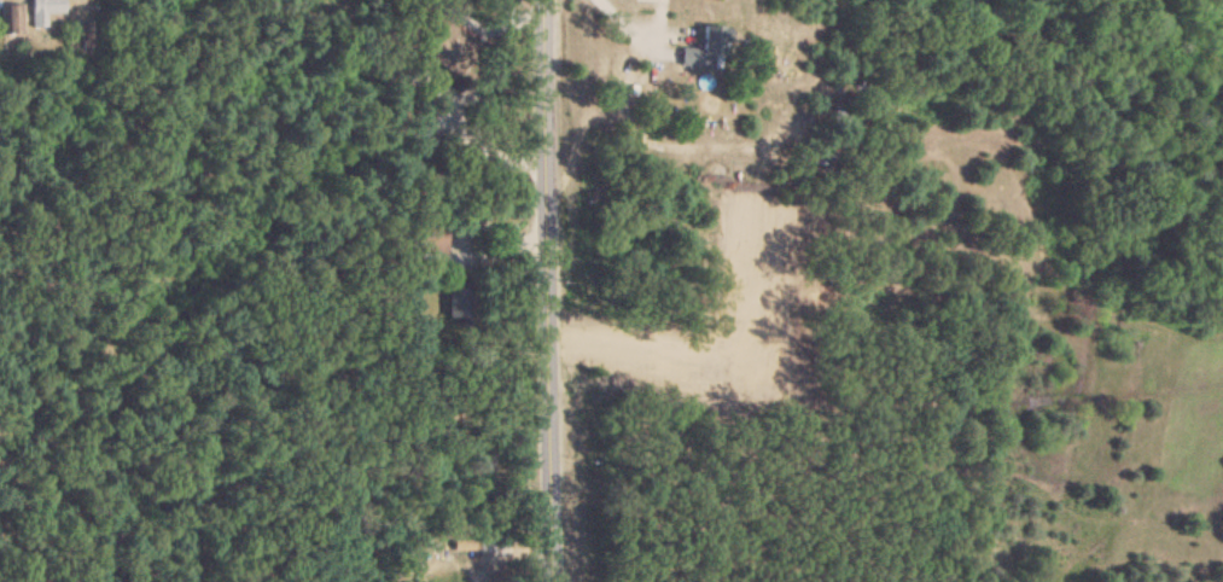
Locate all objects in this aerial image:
road: (507, 6)
building: (43, 10)
road: (529, 11)
building: (10, 18)
road: (478, 29)
road: (636, 33)
building: (705, 47)
building: (450, 50)
road: (544, 291)
building: (458, 301)
road: (641, 348)

